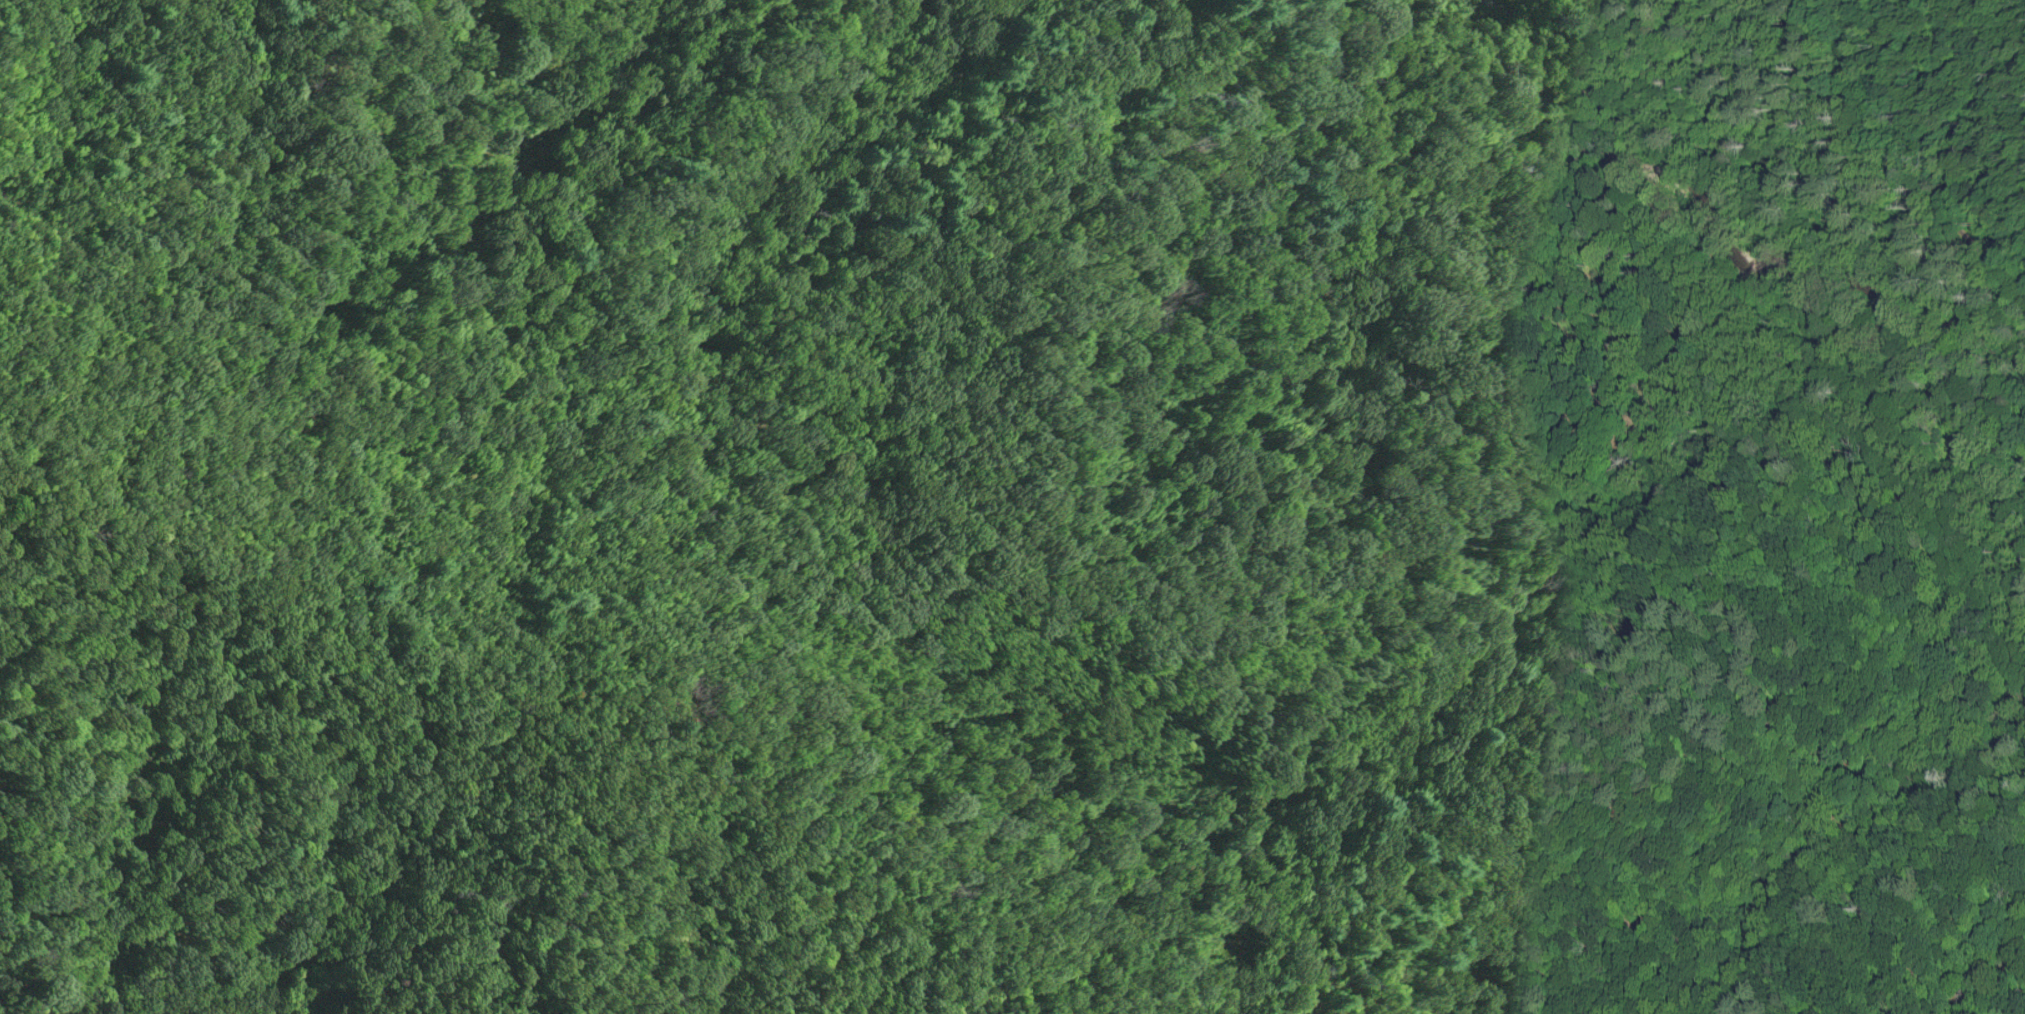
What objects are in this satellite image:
road: (525, 605)

